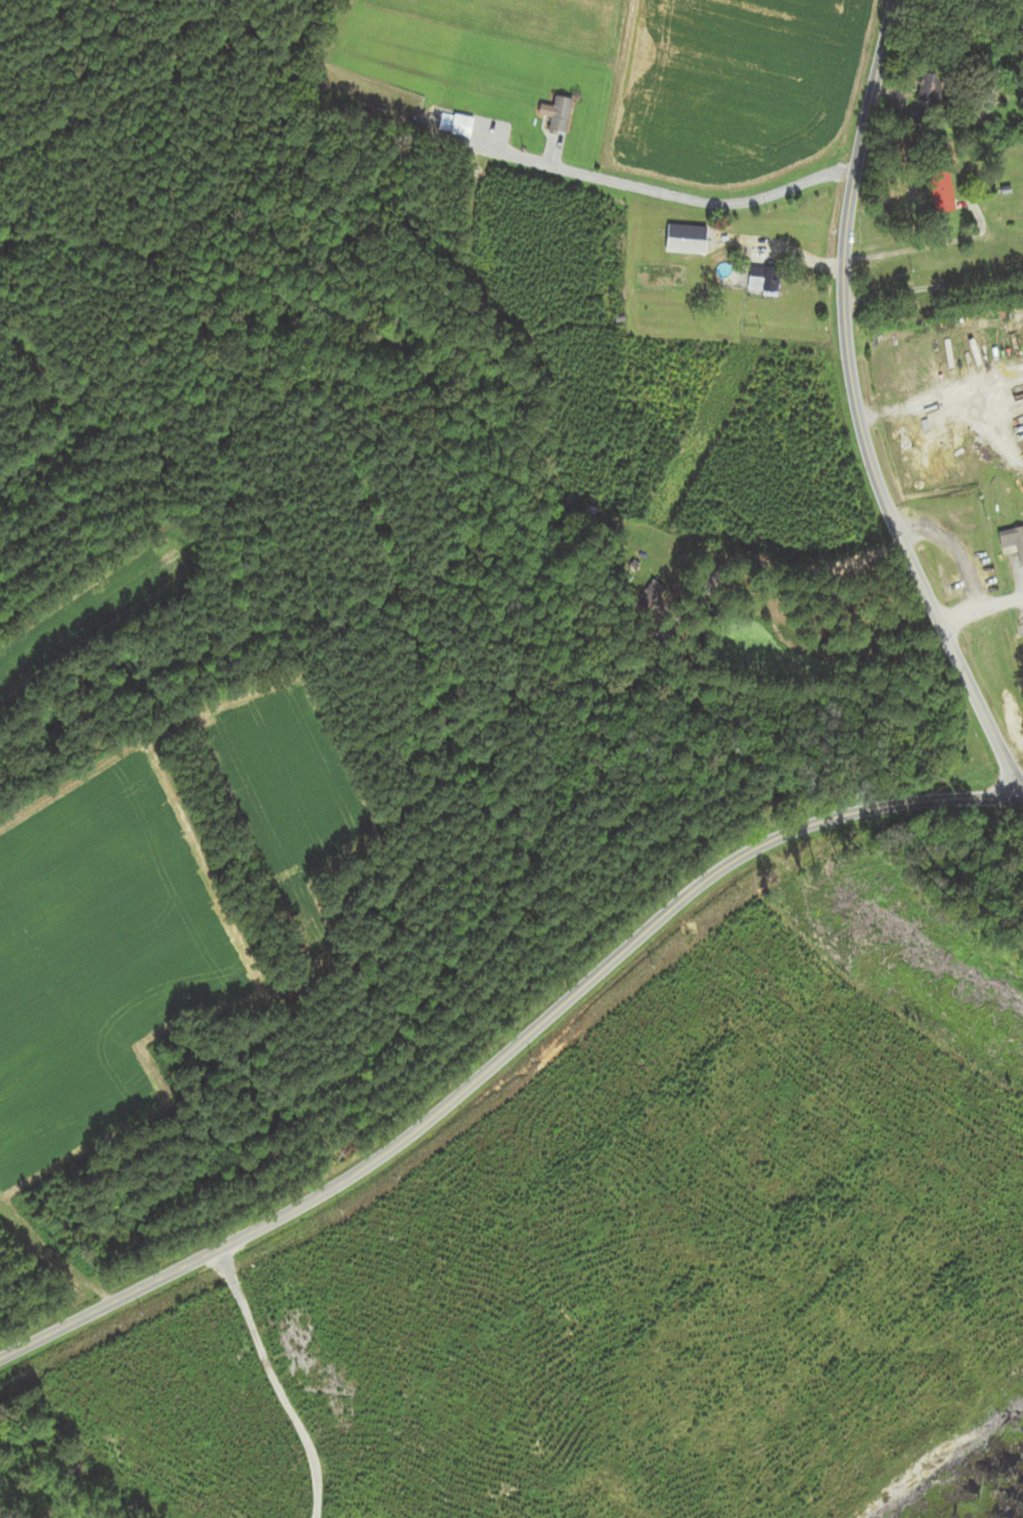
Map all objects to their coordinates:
building: (931, 88)
building: (560, 114)
building: (461, 126)
building: (941, 190)
road: (701, 201)
building: (762, 281)
road: (933, 289)
road: (855, 413)
building: (1011, 537)
building: (648, 594)
road: (980, 613)
road: (508, 1052)

